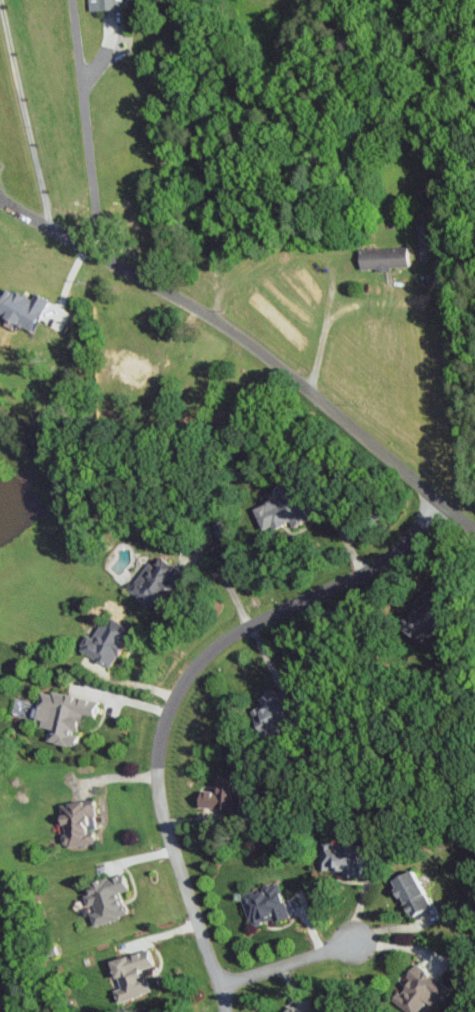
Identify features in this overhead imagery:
building: (107, 4)
road: (26, 113)
road: (87, 125)
building: (381, 257)
building: (19, 307)
road: (322, 332)
road: (251, 346)
building: (128, 364)
building: (277, 512)
building: (151, 580)
building: (419, 621)
building: (104, 641)
road: (172, 692)
road: (119, 698)
building: (269, 710)
building: (62, 715)
building: (217, 798)
building: (75, 822)
building: (338, 858)
building: (407, 892)
building: (104, 898)
building: (262, 904)
road: (287, 963)
building: (420, 989)
building: (292, 1010)

